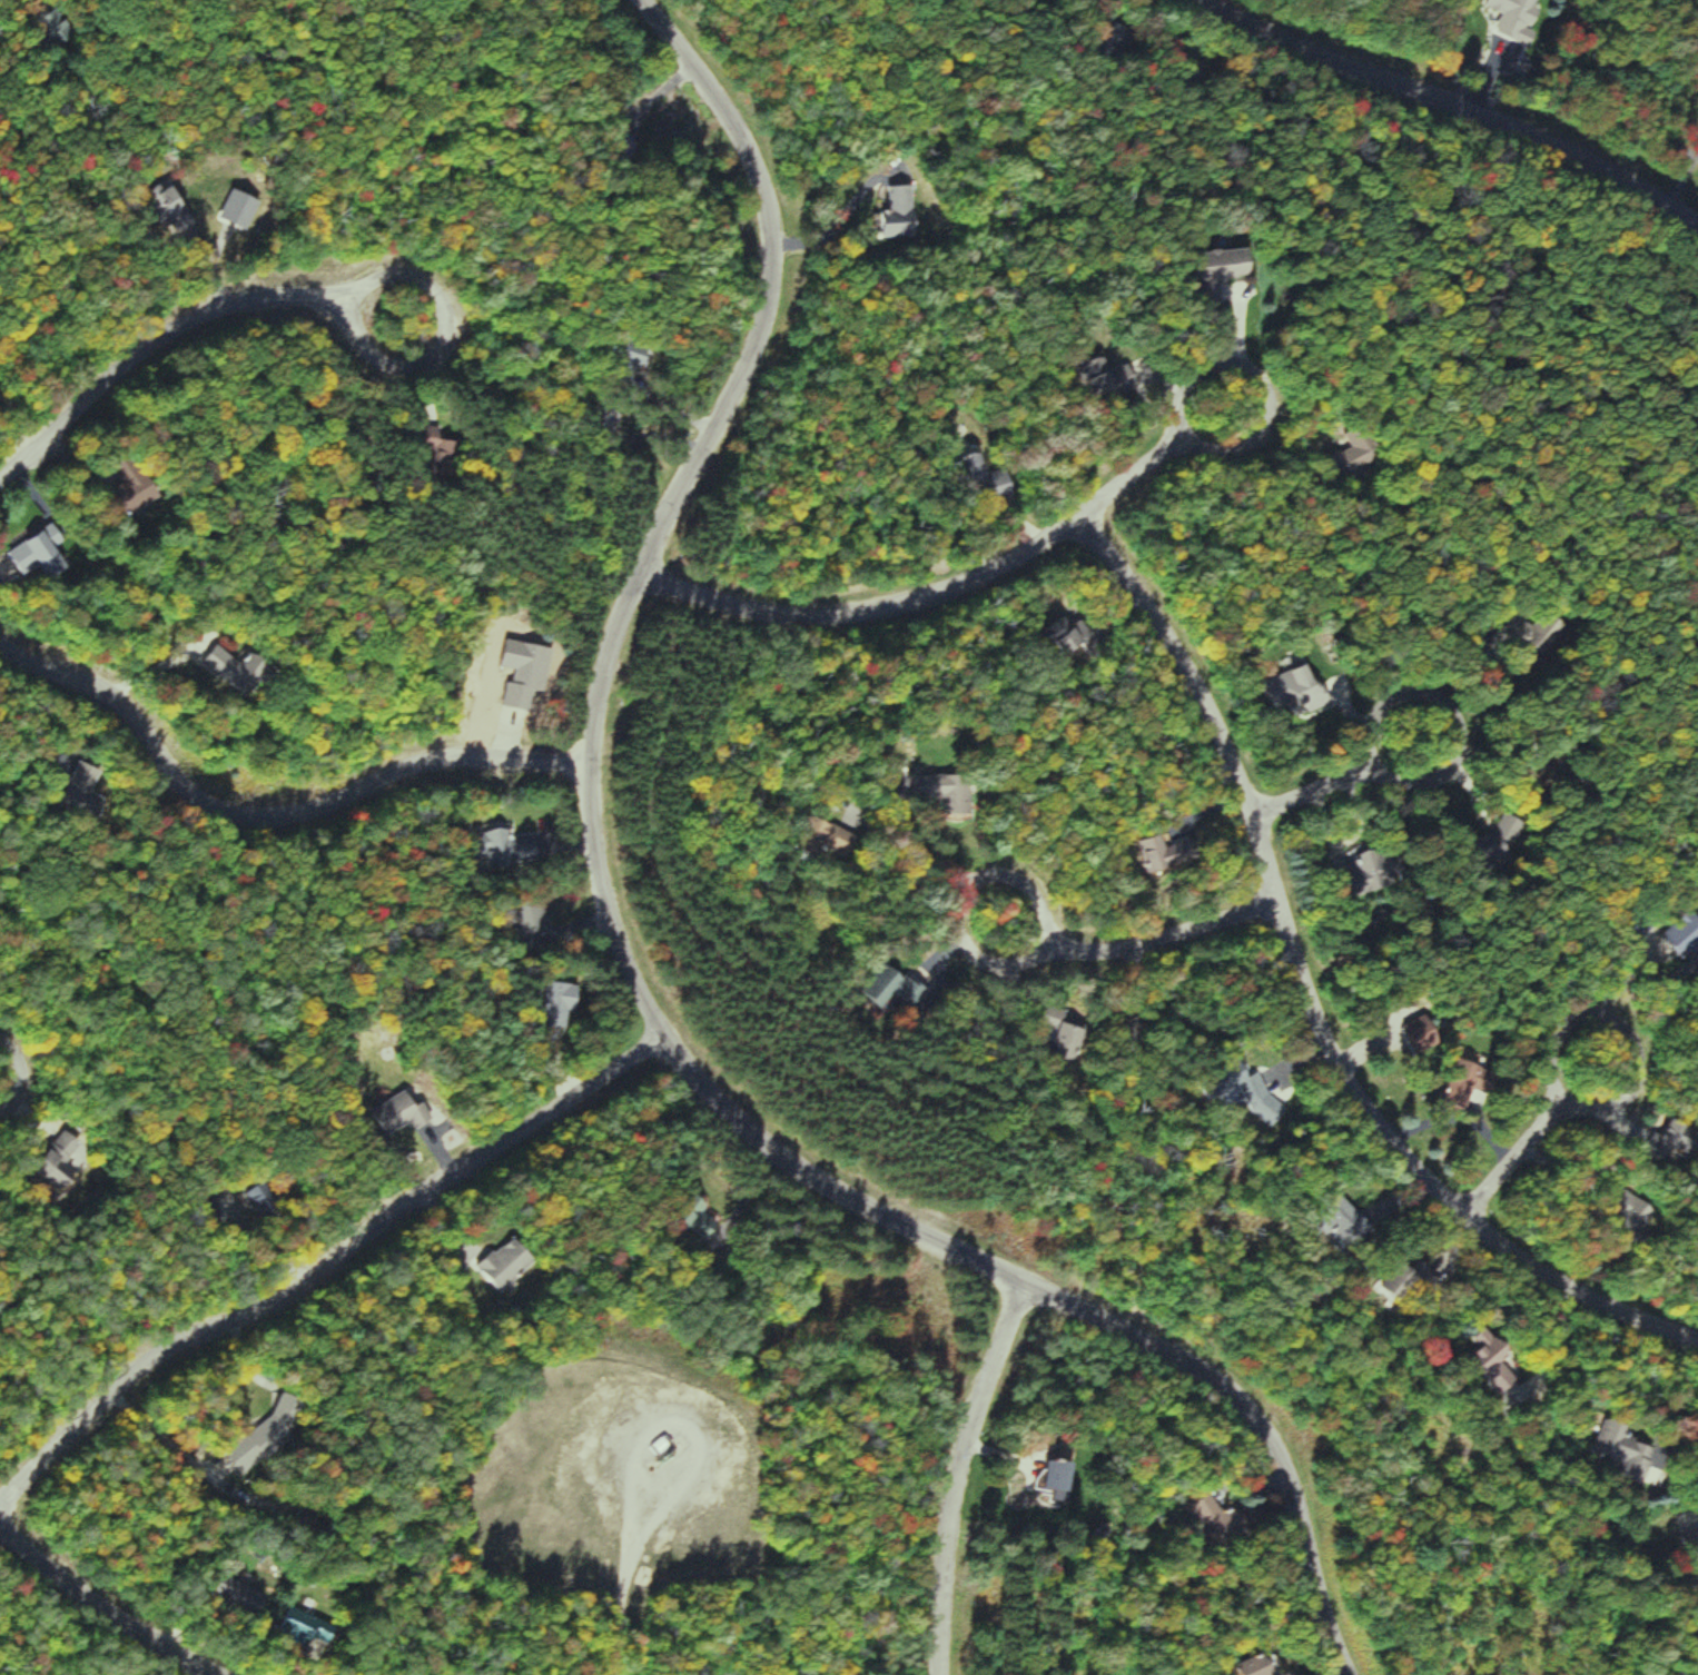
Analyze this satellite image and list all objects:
building: (1518, 18)
road: (1464, 98)
building: (902, 211)
building: (1227, 269)
road: (175, 331)
building: (1110, 378)
building: (3, 400)
road: (1153, 458)
building: (1351, 459)
building: (988, 478)
building: (139, 494)
building: (42, 554)
road: (867, 608)
building: (1069, 635)
building: (243, 668)
building: (530, 673)
building: (1306, 691)
road: (1332, 776)
building: (86, 789)
building: (947, 790)
road: (276, 819)
building: (827, 836)
building: (520, 850)
building: (1159, 854)
building: (1370, 869)
building: (535, 916)
building: (1687, 934)
road: (1143, 949)
road: (659, 963)
building: (911, 991)
road: (1316, 992)
building: (565, 1004)
building: (1076, 1035)
building: (1429, 1035)
building: (1250, 1090)
building: (402, 1113)
road: (1527, 1137)
building: (65, 1162)
road: (339, 1259)
building: (510, 1263)
building: (1419, 1277)
building: (1498, 1361)
building: (284, 1425)
petroleum well: (657, 1448)
building: (1631, 1451)
road: (959, 1474)
building: (1063, 1479)
building: (1220, 1518)
road: (620, 1594)
building: (245, 1598)
road: (106, 1606)
building: (309, 1632)
building: (1264, 1666)

